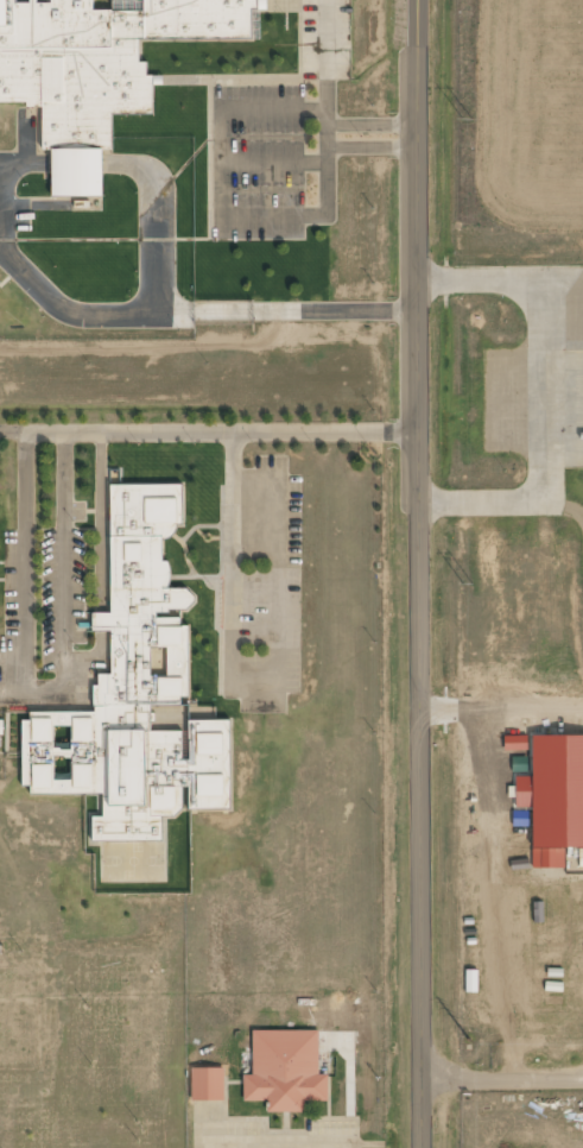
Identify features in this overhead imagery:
building: (95, 70)
power tower: (469, 119)
road: (208, 434)
road: (100, 521)
road: (417, 574)
power tower: (471, 586)
road: (13, 658)
road: (93, 660)
road: (255, 692)
road: (13, 695)
road: (44, 695)
building: (137, 695)
building: (1, 727)
building: (0, 742)
building: (515, 744)
building: (553, 797)
building: (531, 944)
power tower: (474, 1040)
building: (287, 1070)
building: (208, 1084)

